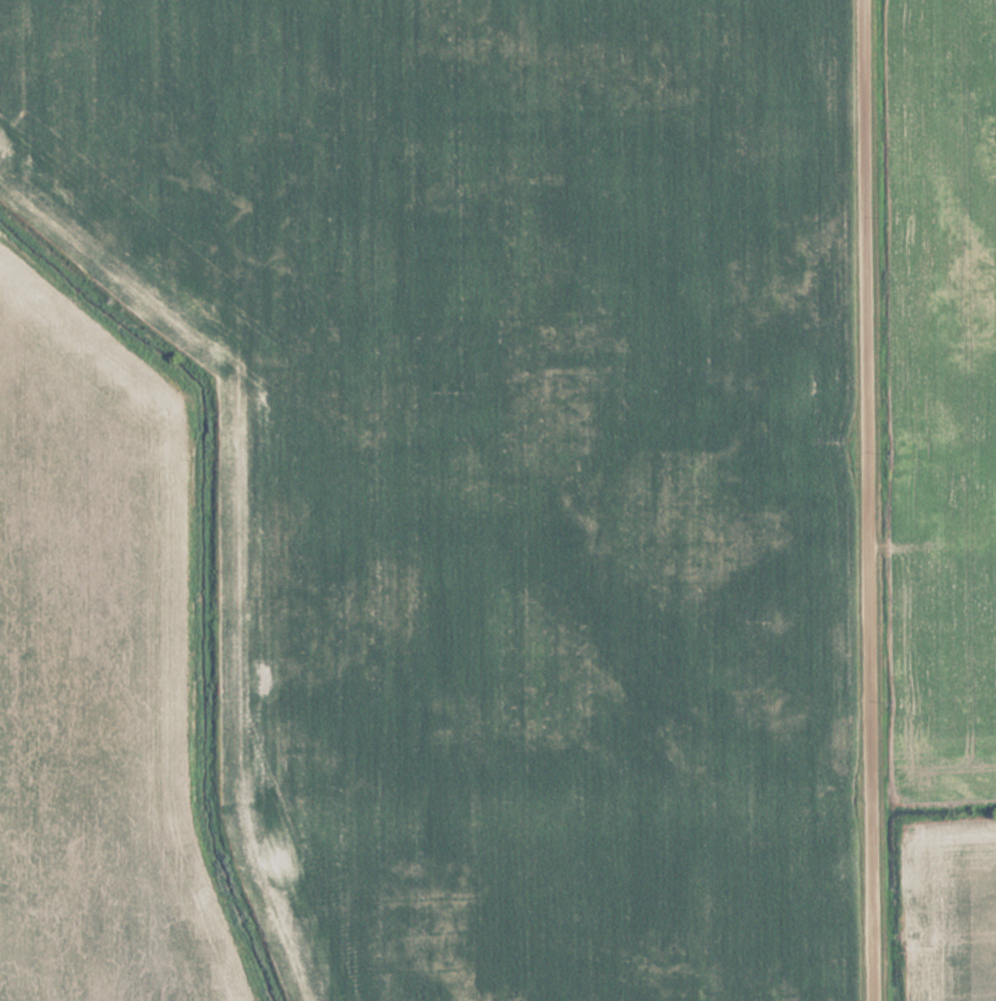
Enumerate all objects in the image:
road: (876, 500)
building: (959, 501)

